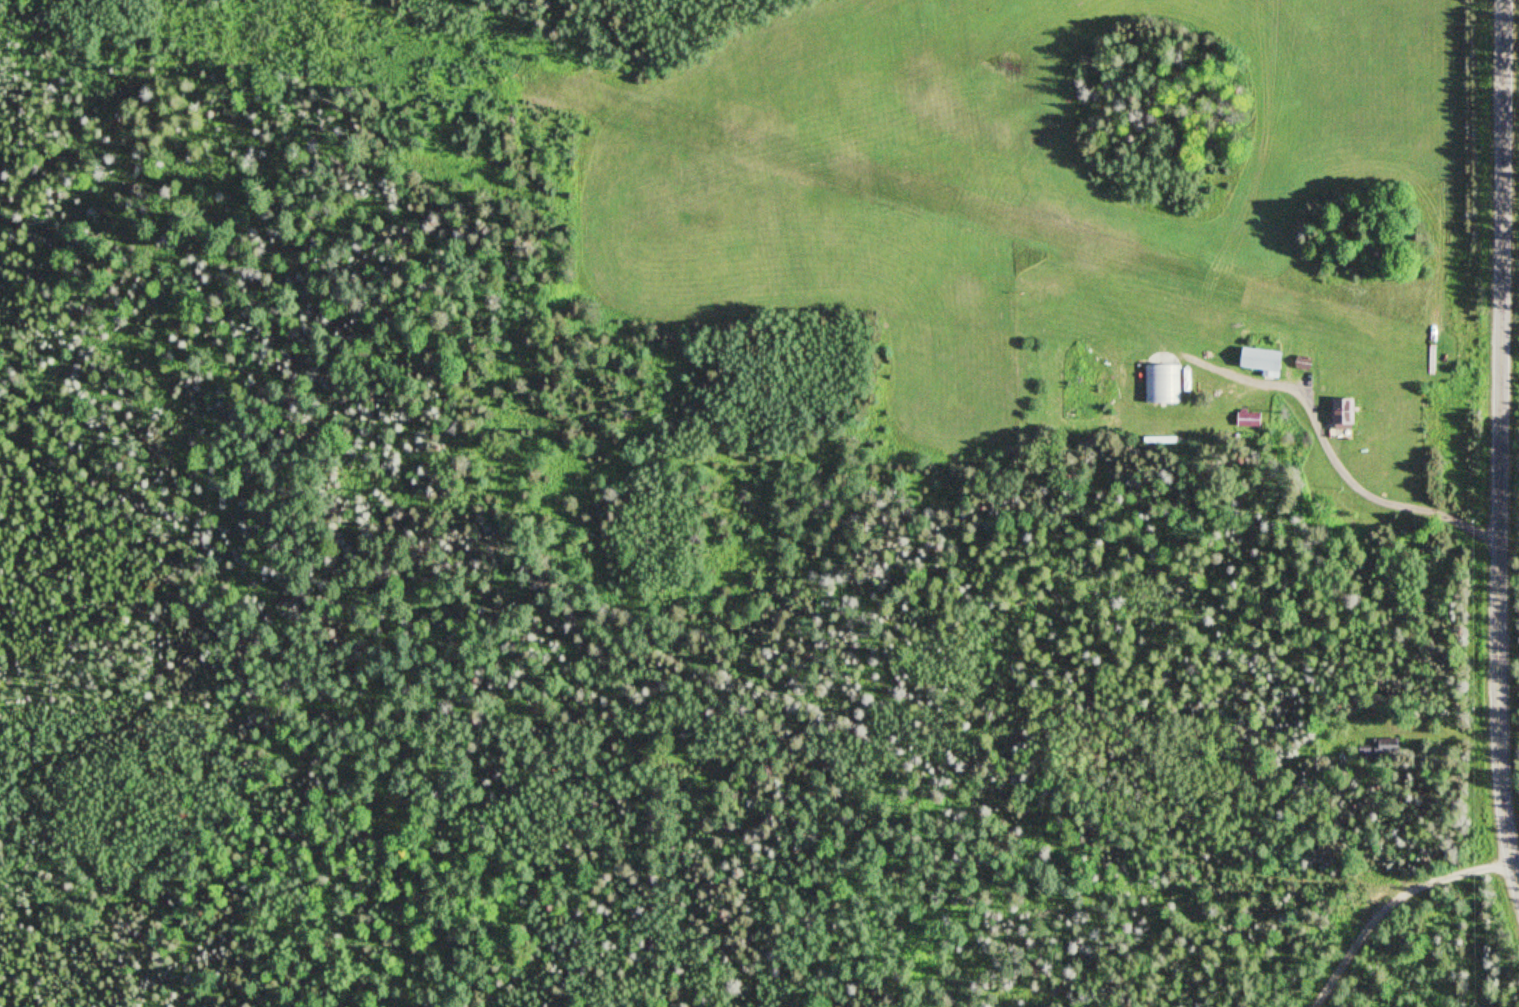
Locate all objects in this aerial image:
building: (1254, 360)
building: (1159, 384)
building: (1336, 414)
road: (1500, 447)
building: (1377, 748)
road: (1388, 905)

